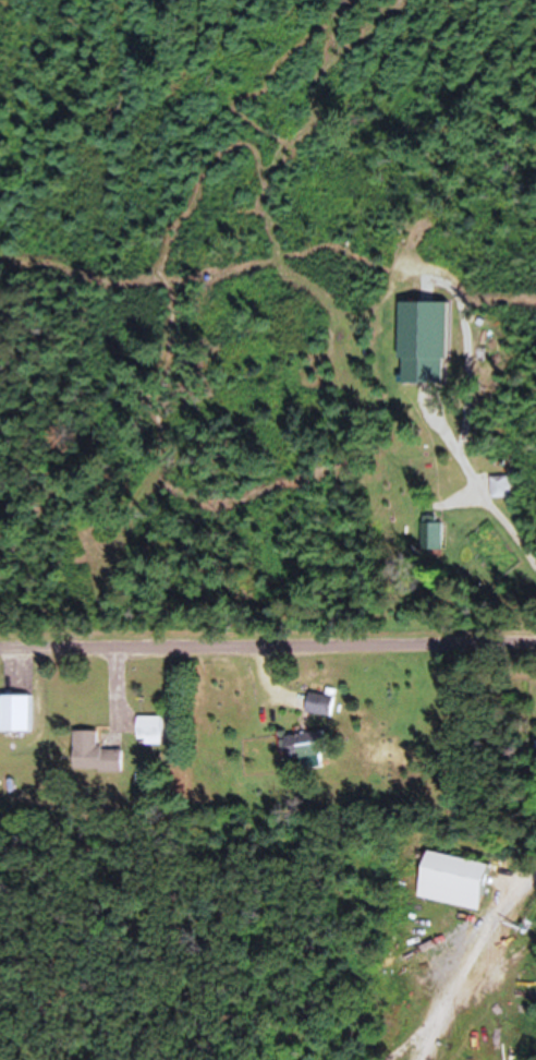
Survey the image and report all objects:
road: (268, 653)
building: (318, 704)
building: (15, 714)
building: (148, 727)
building: (304, 750)
building: (93, 755)
building: (449, 881)
road: (462, 975)

